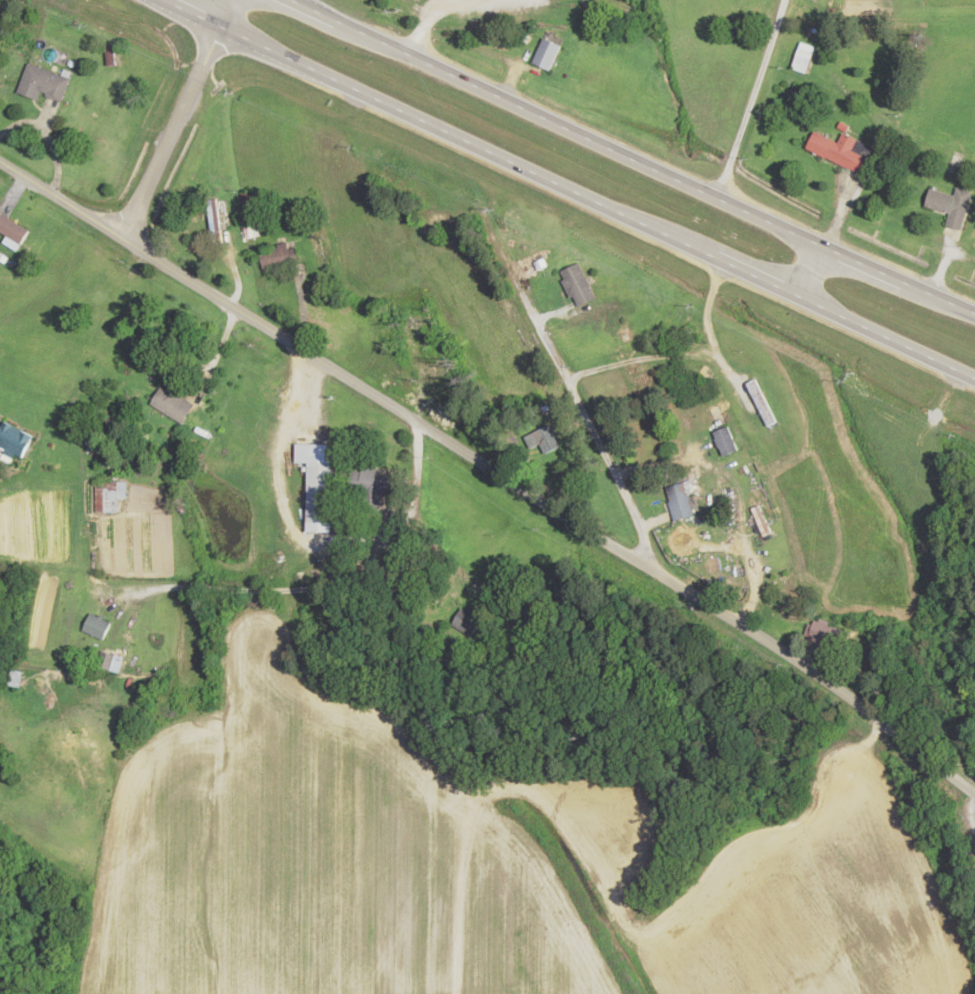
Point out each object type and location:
building: (412, 0)
building: (547, 54)
building: (114, 56)
building: (804, 61)
building: (43, 84)
road: (176, 119)
road: (556, 125)
road: (481, 148)
building: (841, 151)
building: (951, 206)
building: (13, 229)
building: (280, 258)
road: (812, 273)
road: (899, 282)
building: (579, 286)
road: (888, 337)
road: (581, 350)
building: (646, 385)
building: (762, 404)
building: (172, 406)
road: (584, 410)
building: (14, 440)
building: (547, 440)
building: (728, 442)
road: (652, 457)
road: (492, 470)
building: (368, 483)
building: (319, 493)
building: (107, 498)
building: (680, 502)
building: (468, 623)
building: (98, 627)
building: (823, 632)
building: (112, 663)
building: (17, 679)

